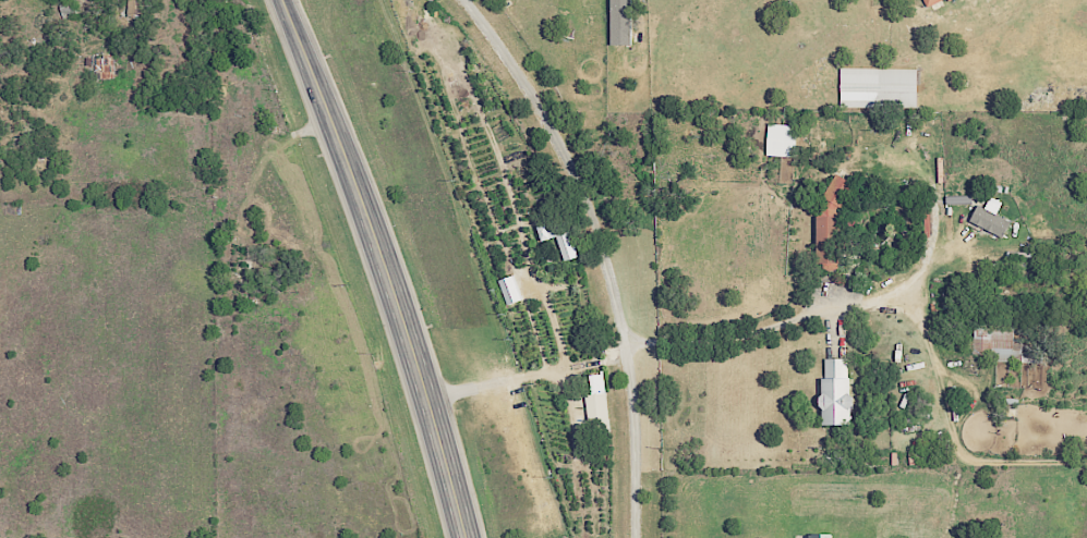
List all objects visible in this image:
building: (932, 1)
building: (137, 7)
building: (625, 22)
building: (107, 66)
building: (881, 86)
building: (784, 139)
building: (993, 220)
building: (836, 222)
building: (555, 229)
building: (569, 246)
road: (603, 250)
road: (383, 265)
building: (514, 289)
road: (547, 306)
road: (905, 306)
building: (997, 326)
building: (995, 344)
road: (528, 376)
building: (840, 392)
building: (600, 396)
building: (825, 535)

